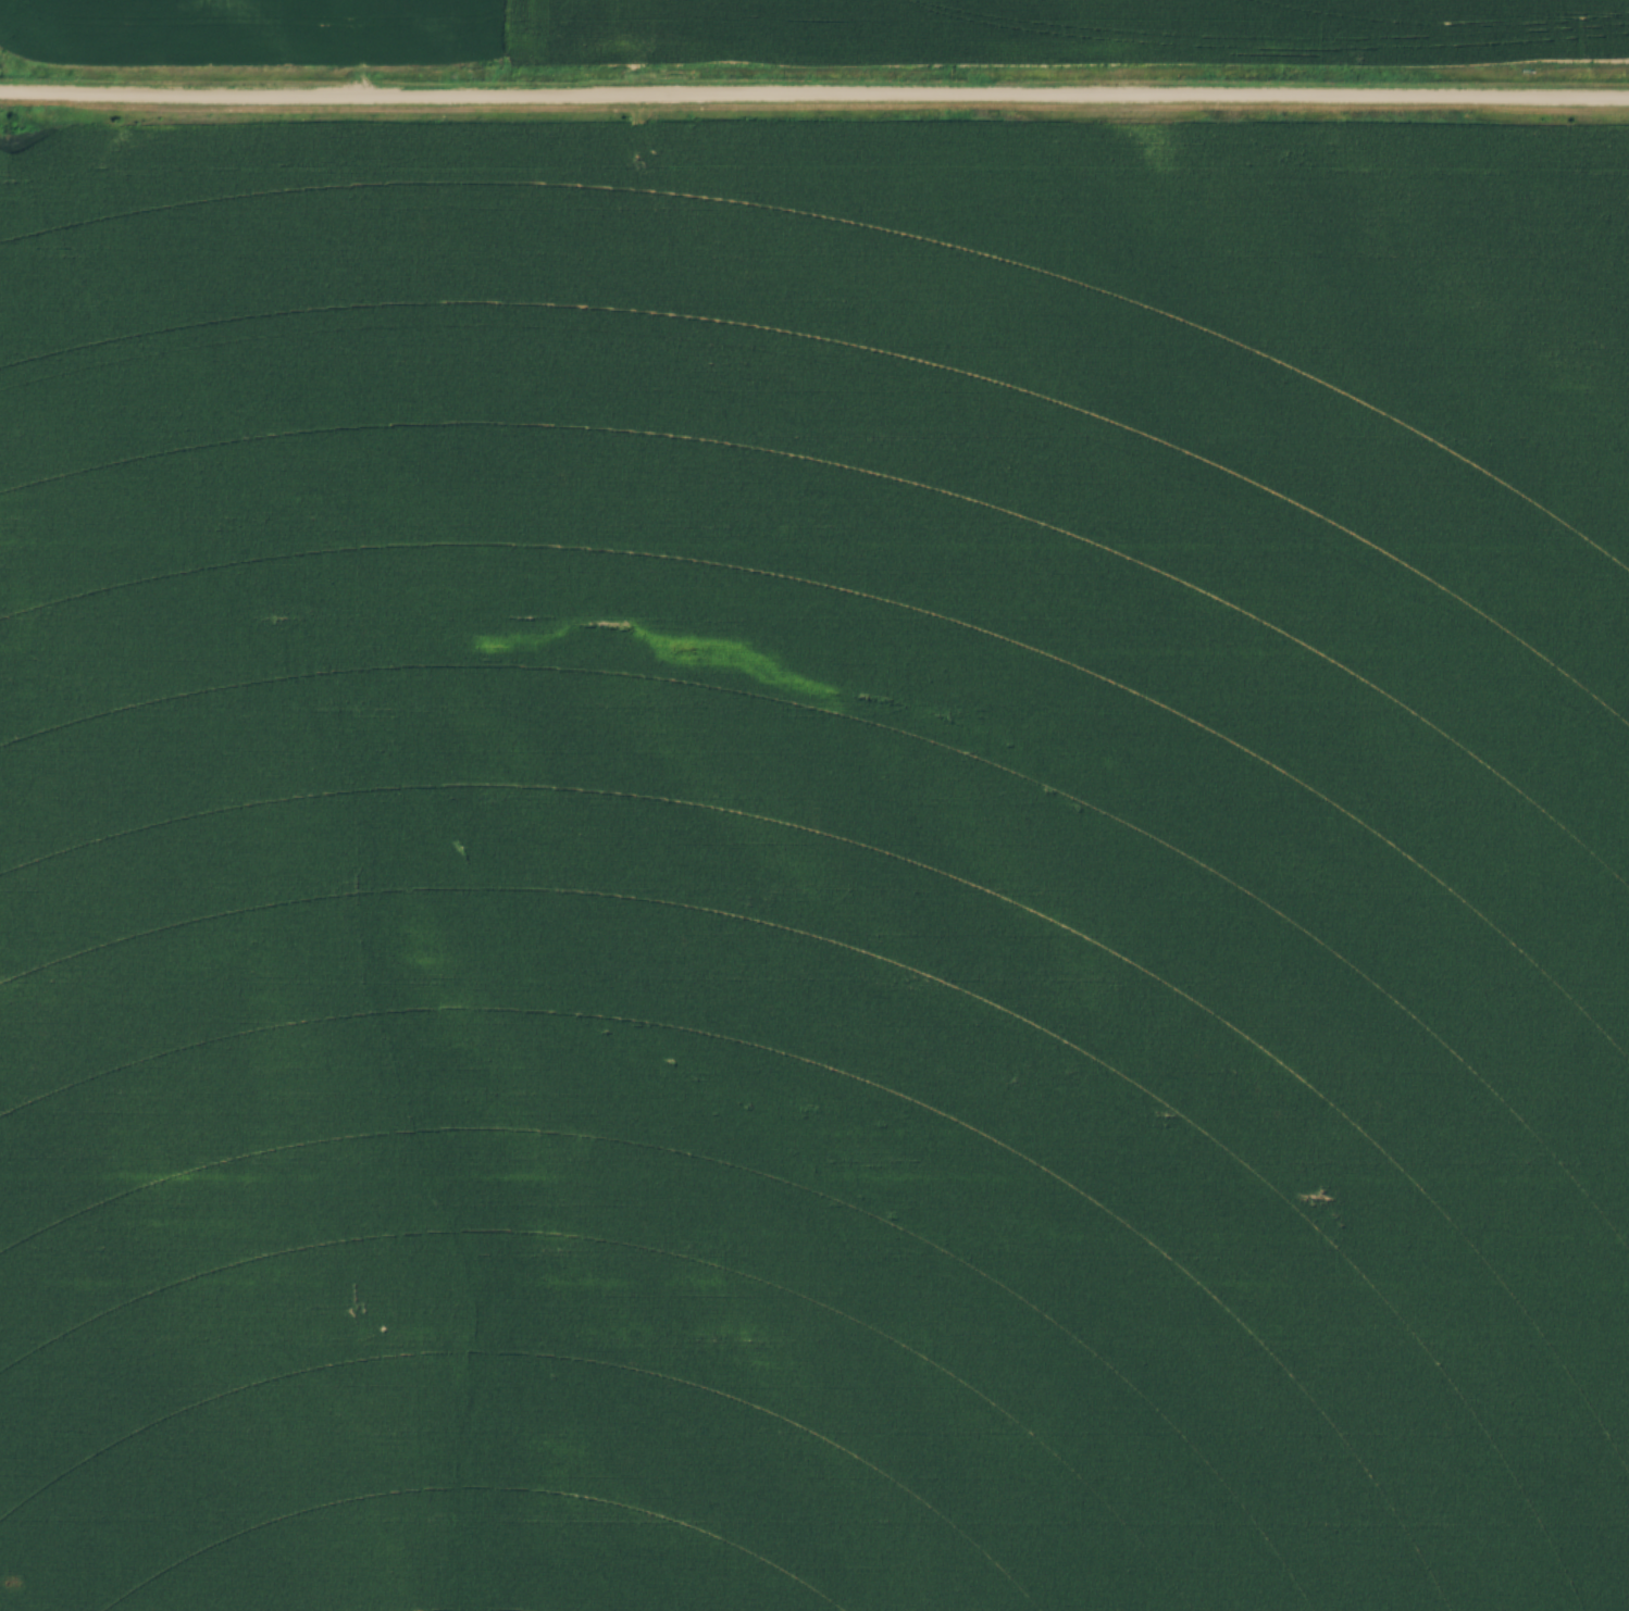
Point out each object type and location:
road: (813, 101)

